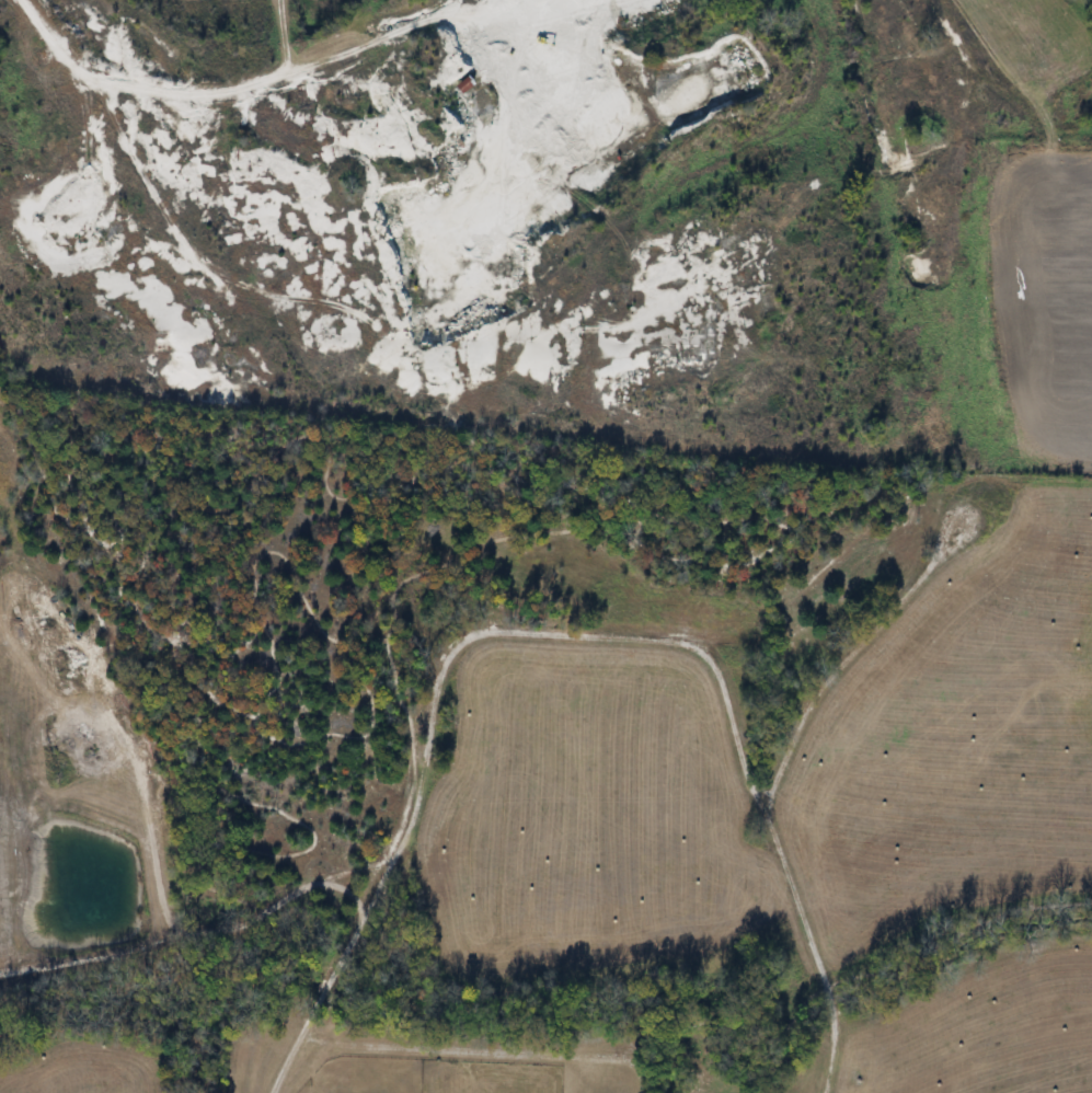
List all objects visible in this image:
building: (469, 85)

